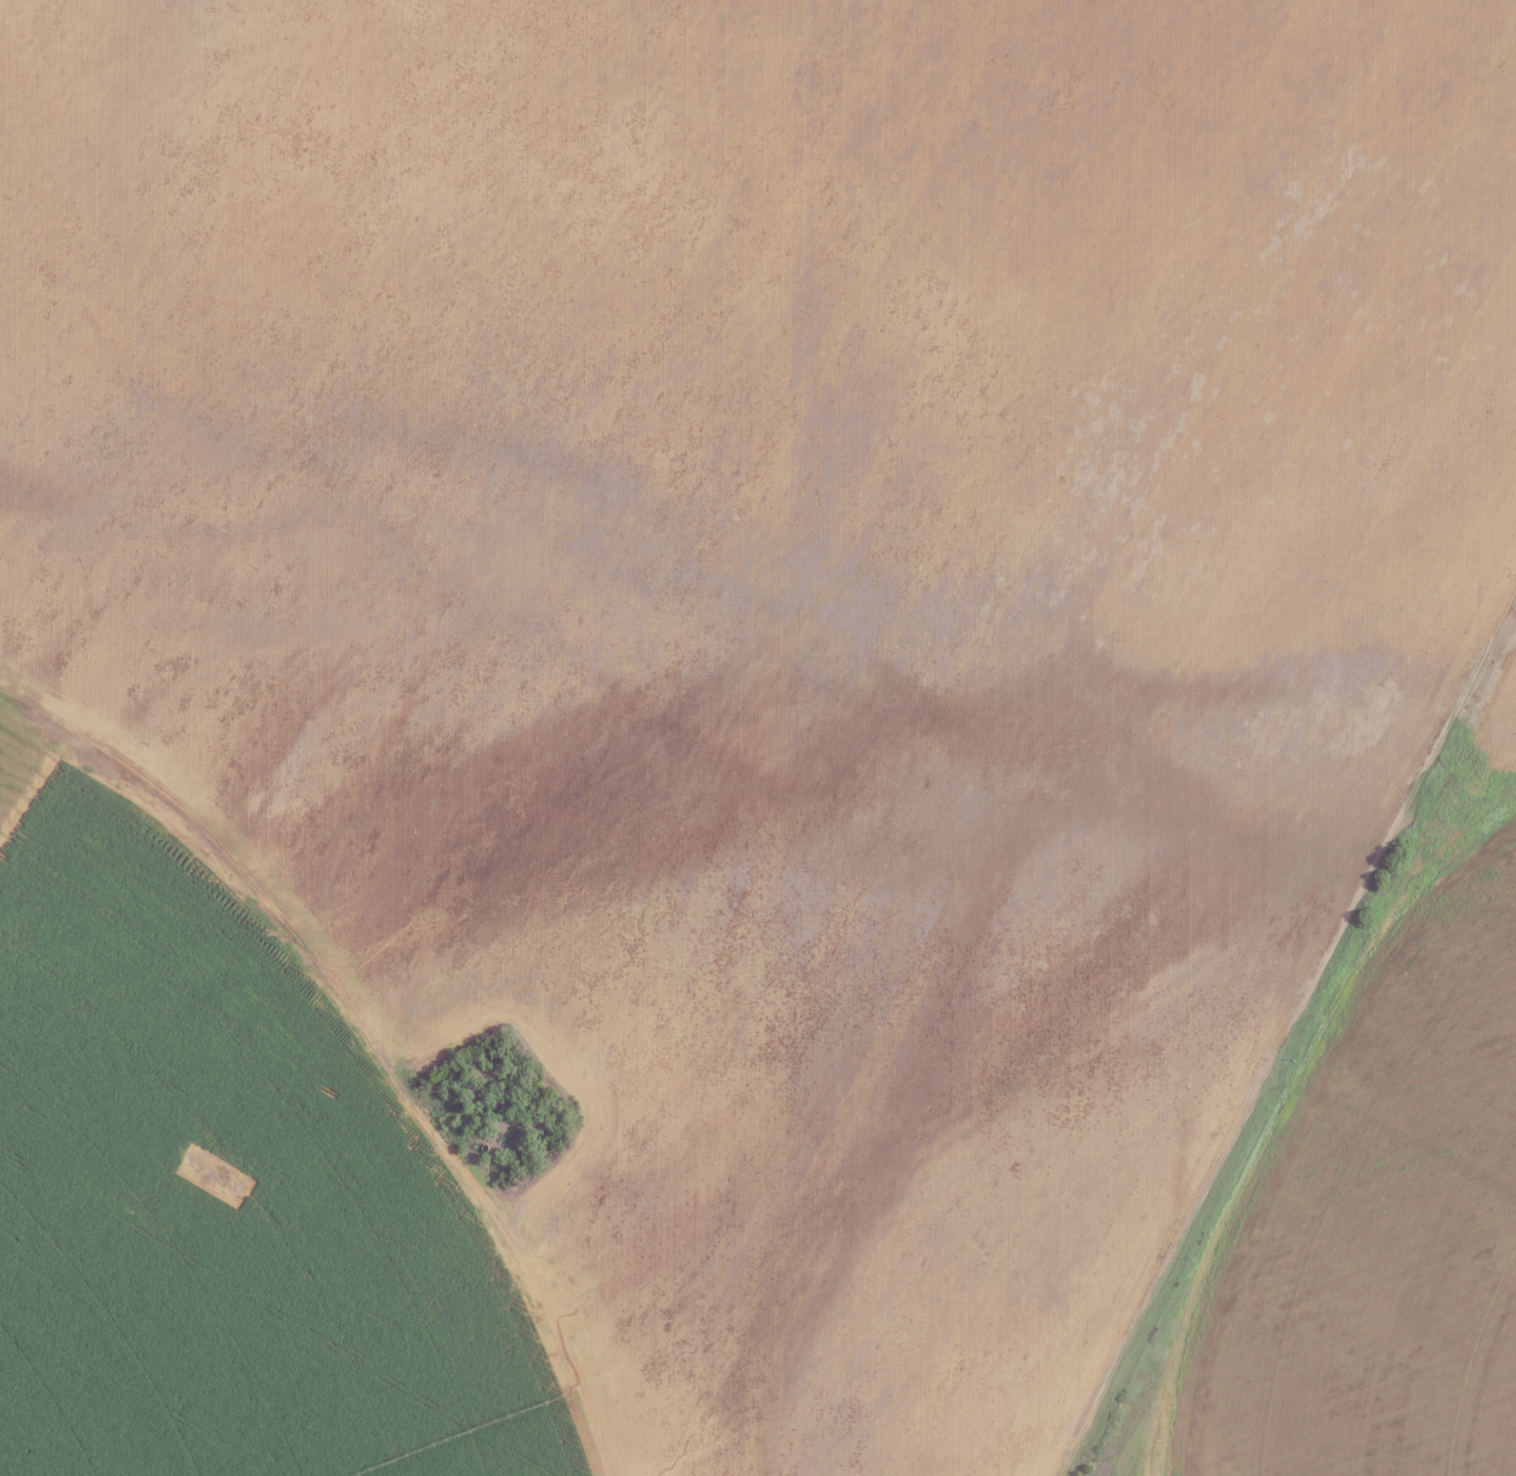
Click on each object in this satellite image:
road: (1293, 1040)

